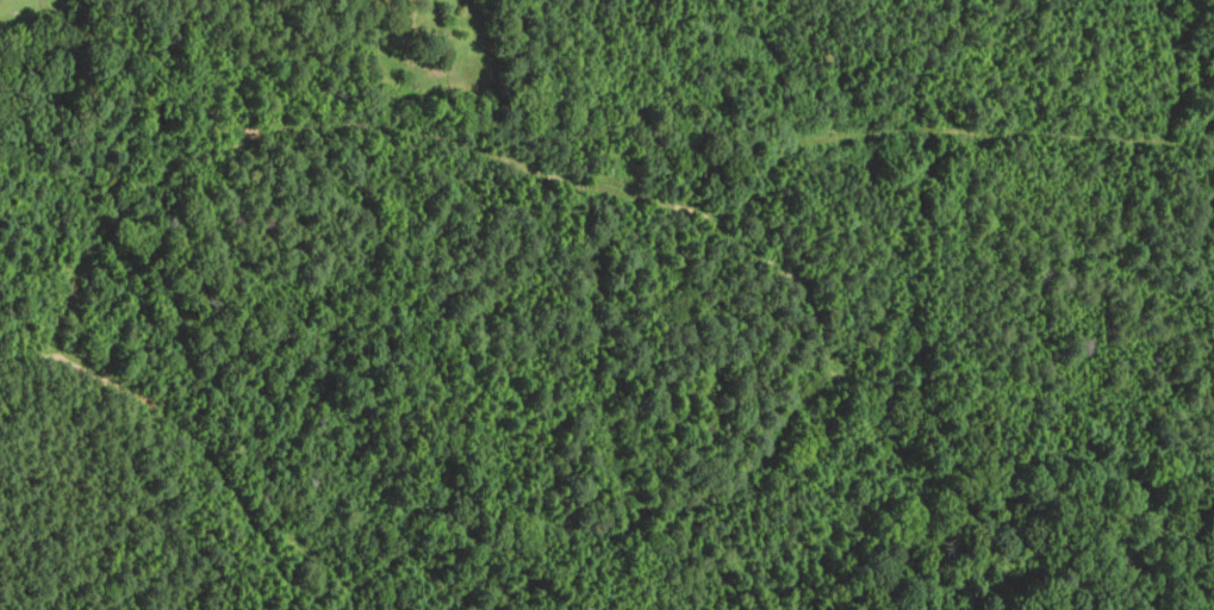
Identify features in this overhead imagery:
road: (1212, 33)

